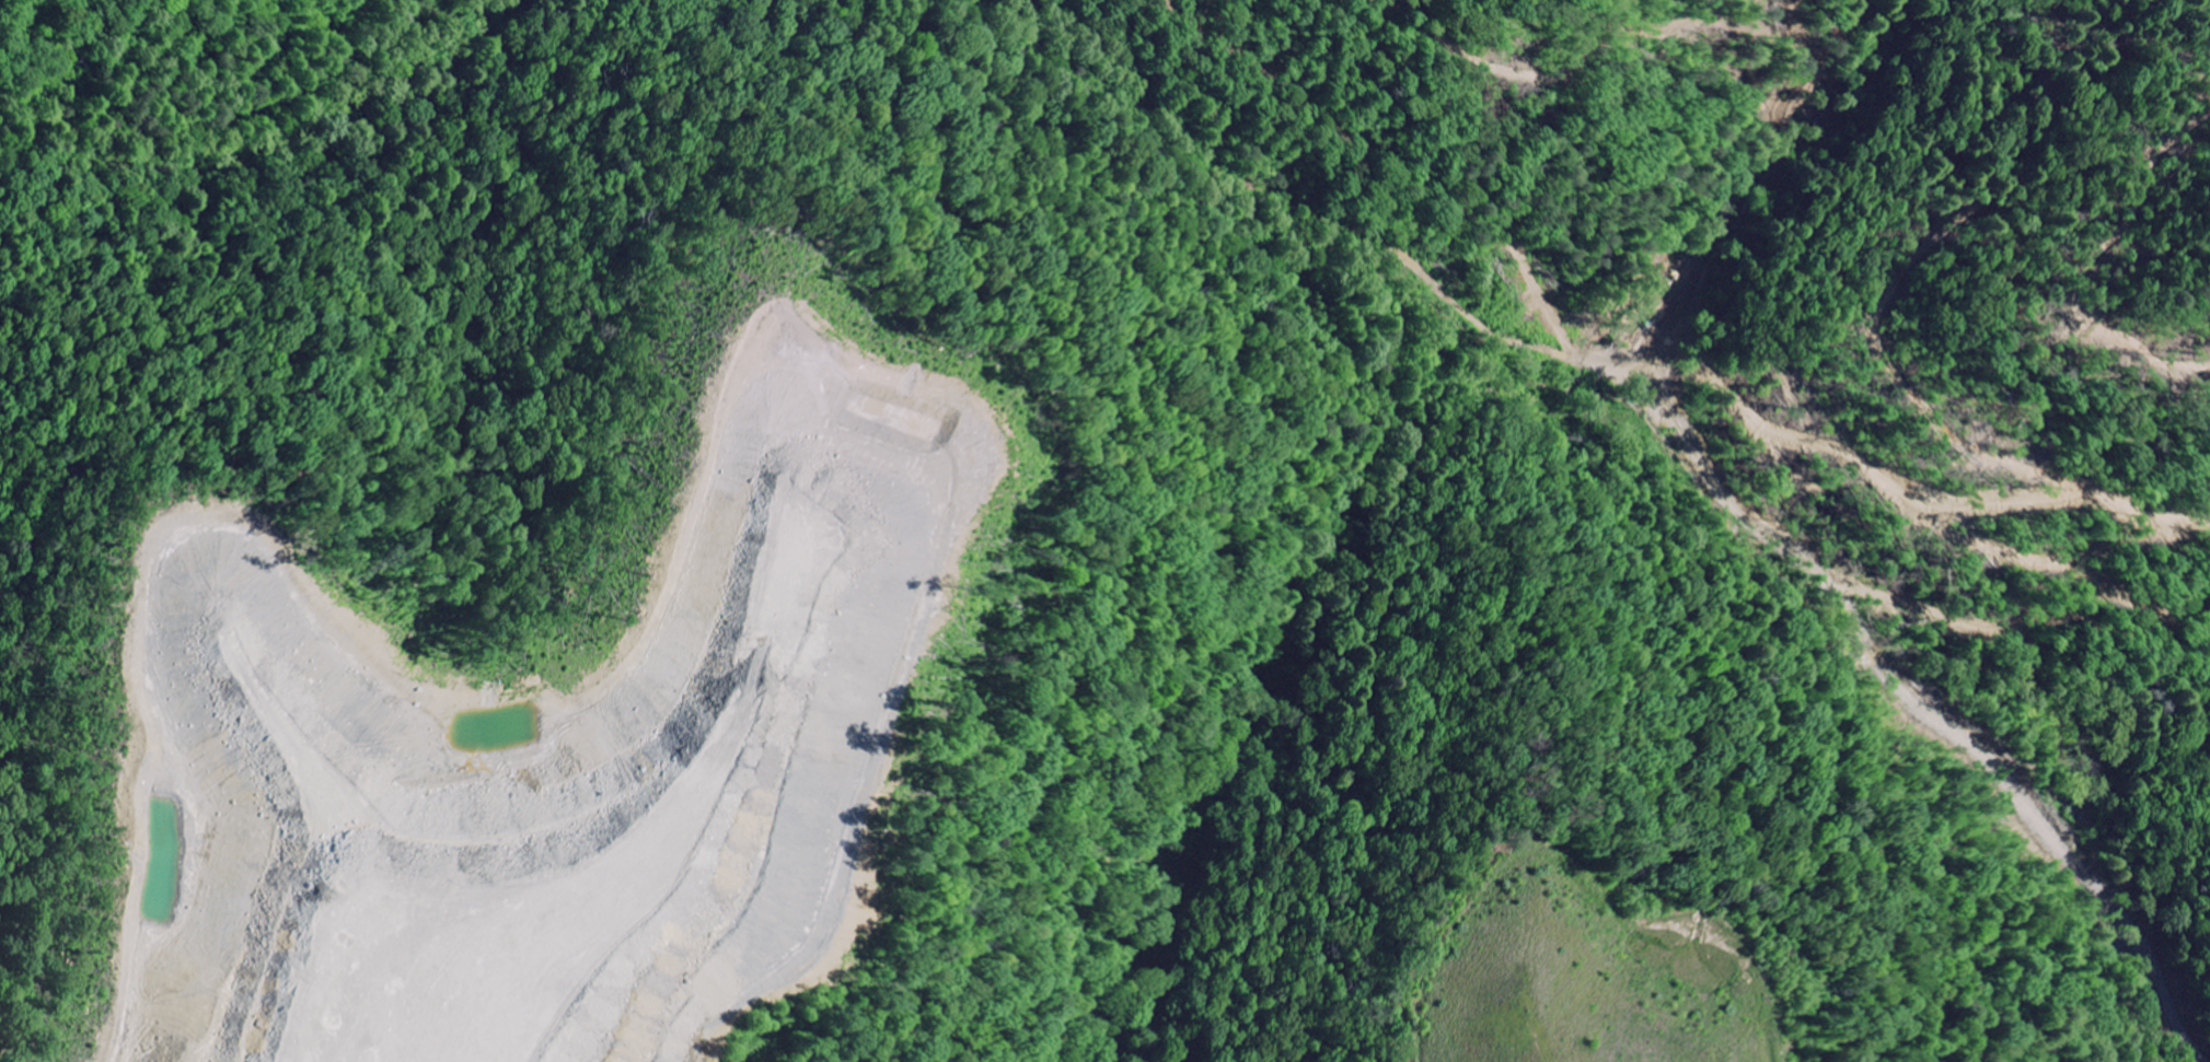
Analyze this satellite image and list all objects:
quarry: (1085, 897)

